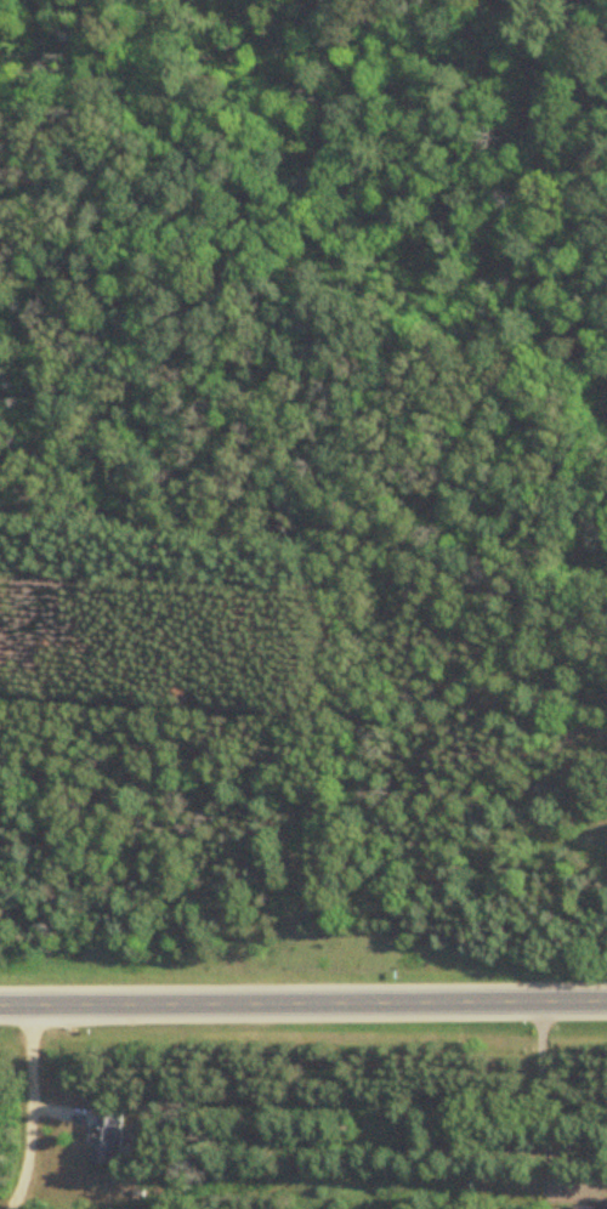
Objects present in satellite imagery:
road: (302, 998)
road: (537, 1094)
road: (23, 1106)
building: (108, 1135)
building: (583, 1207)

